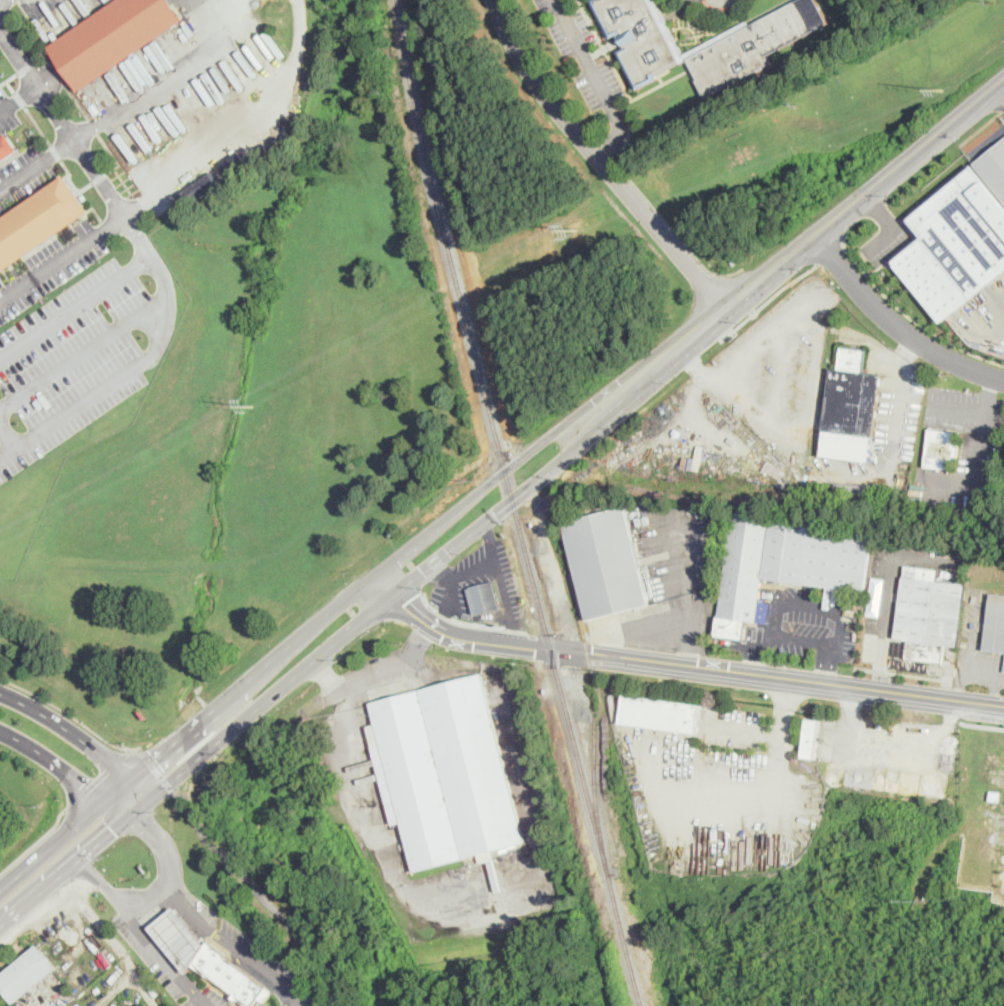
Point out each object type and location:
power tower: (994, 0)
road: (3, 1)
parking lot: (59, 14)
building: (113, 37)
building: (169, 39)
road: (603, 48)
building: (736, 49)
road: (44, 54)
road: (25, 67)
road: (57, 72)
road: (171, 78)
road: (597, 79)
road: (6, 80)
road: (3, 82)
park: (904, 83)
power tower: (944, 89)
road: (999, 90)
road: (20, 97)
road: (18, 100)
road: (76, 100)
building: (90, 101)
power tower: (799, 104)
parking lot: (8, 115)
road: (239, 120)
road: (63, 123)
road: (38, 125)
road: (92, 125)
building: (32, 132)
building: (6, 146)
road: (56, 151)
road: (110, 154)
road: (612, 157)
road: (618, 158)
road: (601, 160)
building: (233, 162)
road: (36, 164)
building: (994, 168)
road: (68, 174)
parking lot: (24, 176)
road: (98, 176)
road: (84, 186)
road: (864, 191)
building: (190, 199)
building: (39, 221)
power tower: (578, 228)
park: (531, 234)
building: (954, 243)
road: (830, 253)
road: (725, 277)
road: (168, 296)
road: (767, 299)
road: (76, 305)
road: (908, 316)
road: (896, 323)
parking lot: (79, 331)
road: (84, 353)
road: (811, 381)
road: (898, 397)
parking lot: (894, 400)
power tower: (252, 407)
building: (851, 408)
road: (957, 408)
road: (7, 439)
parking lot: (964, 447)
building: (942, 450)
road: (565, 456)
road: (980, 457)
building: (849, 493)
railway: (514, 504)
road: (489, 536)
road: (494, 558)
building: (786, 562)
building: (606, 563)
road: (179, 564)
road: (443, 571)
road: (685, 574)
road: (890, 576)
parking lot: (670, 578)
building: (771, 583)
road: (386, 584)
road: (356, 591)
building: (484, 597)
building: (929, 615)
road: (441, 618)
parking lot: (881, 621)
building: (995, 625)
parking lot: (809, 627)
road: (437, 630)
road: (649, 630)
road: (515, 631)
road: (794, 632)
road: (418, 644)
road: (685, 647)
road: (749, 672)
road: (903, 673)
road: (878, 675)
road: (328, 676)
road: (375, 678)
railway: (594, 691)
road: (263, 701)
building: (661, 714)
road: (71, 715)
road: (982, 726)
parking lot: (737, 727)
road: (746, 730)
building: (812, 737)
road: (82, 740)
traffic signals: (157, 759)
road: (158, 770)
road: (772, 770)
road: (67, 771)
building: (445, 772)
road: (97, 778)
traffic signals: (82, 784)
building: (995, 795)
traffic signals: (144, 822)
traffic signals: (114, 830)
road: (35, 842)
road: (167, 849)
road: (67, 869)
road: (510, 894)
road: (263, 898)
road: (158, 913)
road: (135, 922)
road: (241, 951)
parking lot: (248, 952)
building: (208, 959)
parking lot: (165, 962)
building: (26, 973)
road: (262, 976)
road: (199, 997)
building: (142, 1005)

